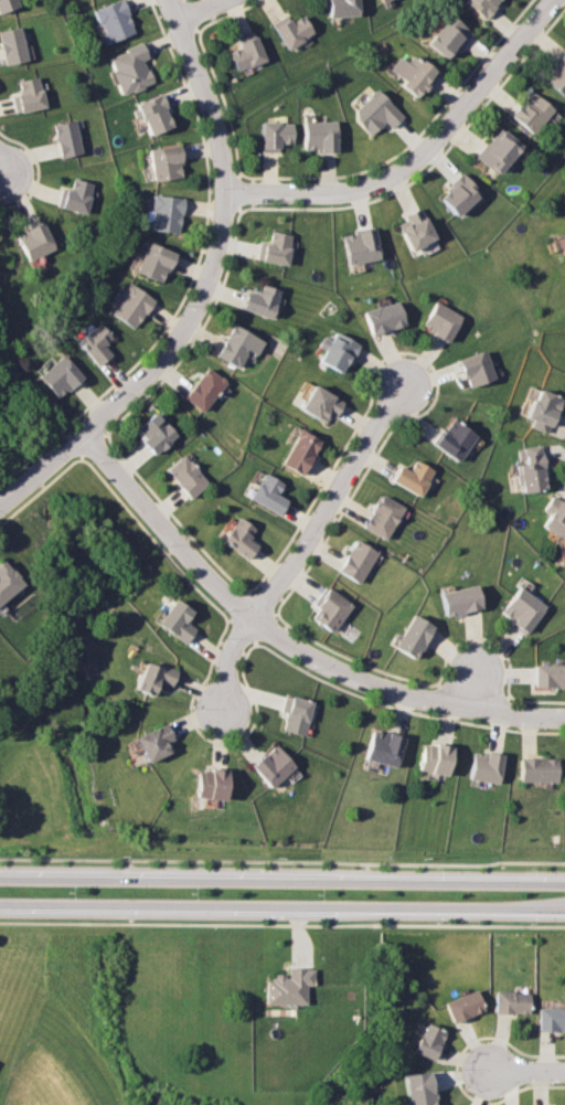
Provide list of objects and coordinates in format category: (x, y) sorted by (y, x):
building: (384, 1)
building: (8, 4)
building: (486, 6)
building: (345, 8)
road: (170, 9)
road: (195, 9)
building: (115, 21)
building: (296, 31)
building: (449, 36)
building: (13, 45)
building: (248, 53)
building: (131, 68)
building: (415, 72)
building: (558, 75)
building: (29, 96)
building: (376, 111)
building: (533, 111)
building: (156, 114)
building: (277, 135)
building: (321, 136)
building: (68, 139)
building: (501, 150)
road: (425, 156)
building: (168, 163)
road: (3, 170)
building: (76, 195)
building: (461, 195)
building: (167, 213)
building: (417, 230)
building: (35, 241)
building: (563, 243)
building: (362, 246)
building: (276, 248)
building: (157, 262)
road: (201, 297)
building: (264, 300)
building: (132, 305)
building: (385, 318)
building: (443, 321)
building: (96, 343)
building: (237, 346)
building: (340, 352)
building: (478, 369)
building: (61, 376)
building: (206, 390)
building: (323, 405)
building: (545, 411)
building: (157, 433)
building: (457, 439)
building: (302, 453)
building: (534, 469)
building: (186, 476)
building: (416, 477)
building: (270, 493)
building: (385, 517)
building: (555, 517)
road: (166, 530)
building: (241, 536)
road: (306, 548)
building: (359, 561)
building: (8, 581)
building: (463, 598)
building: (524, 607)
building: (332, 608)
building: (178, 618)
building: (415, 634)
building: (551, 673)
building: (154, 676)
road: (358, 679)
road: (477, 691)
building: (297, 713)
road: (519, 713)
building: (156, 740)
building: (386, 746)
building: (437, 756)
building: (274, 763)
building: (487, 764)
building: (540, 767)
building: (213, 782)
road: (282, 878)
road: (282, 907)
building: (288, 986)
building: (511, 1001)
building: (462, 1006)
building: (551, 1019)
building: (428, 1041)
road: (529, 1073)
building: (417, 1088)

